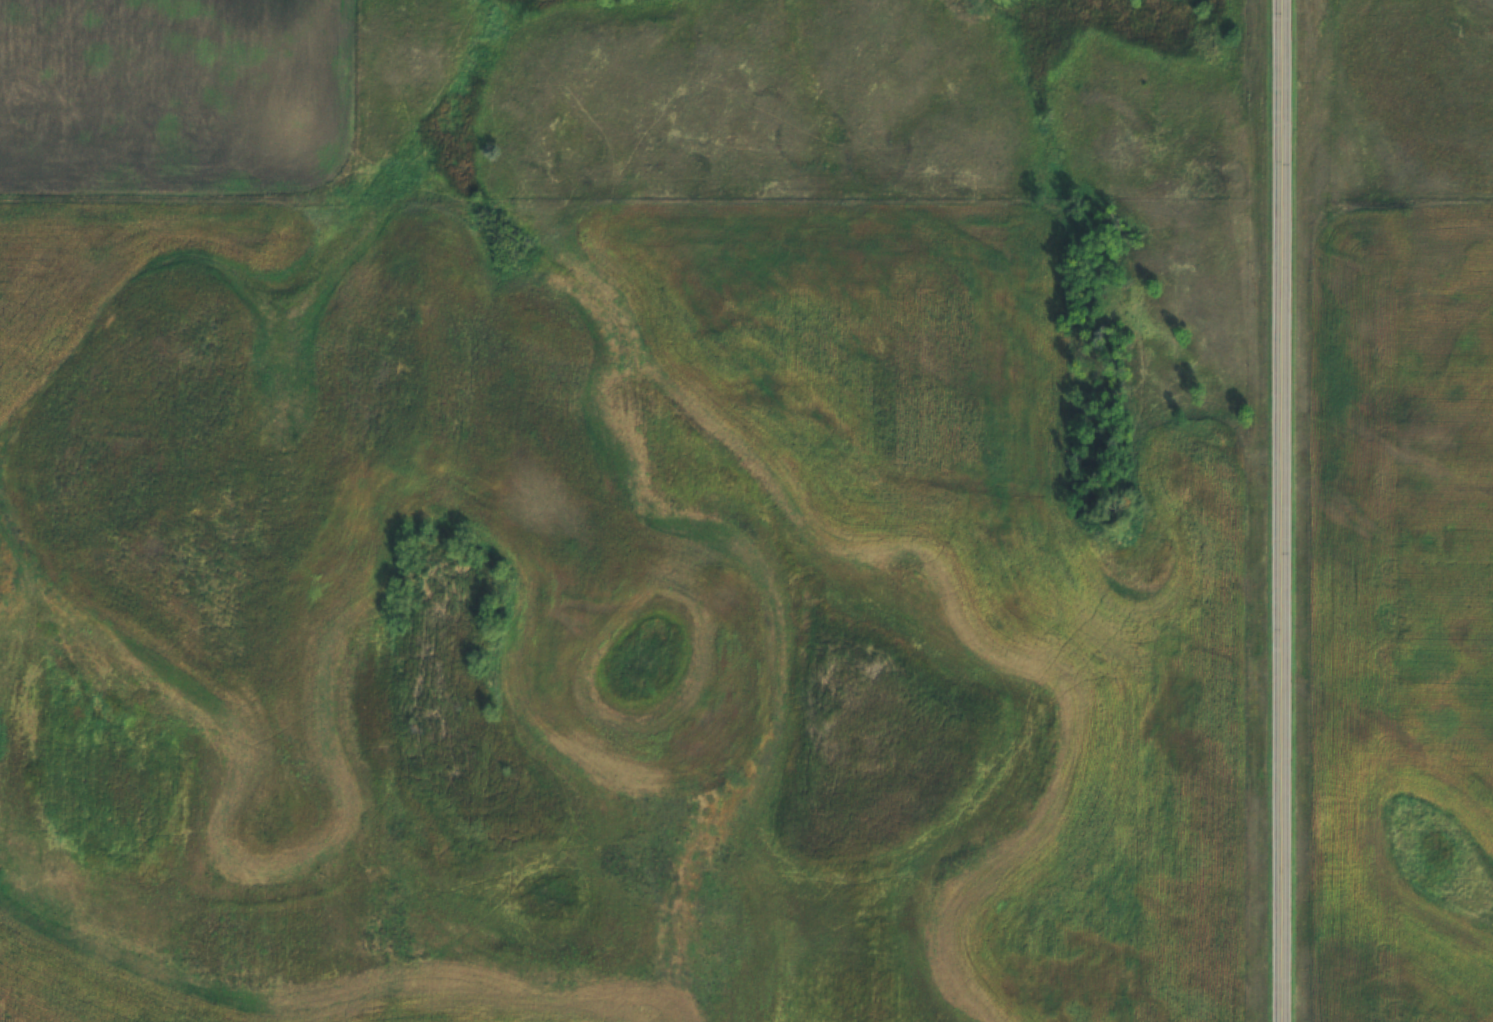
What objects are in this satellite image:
road: (1284, 511)

